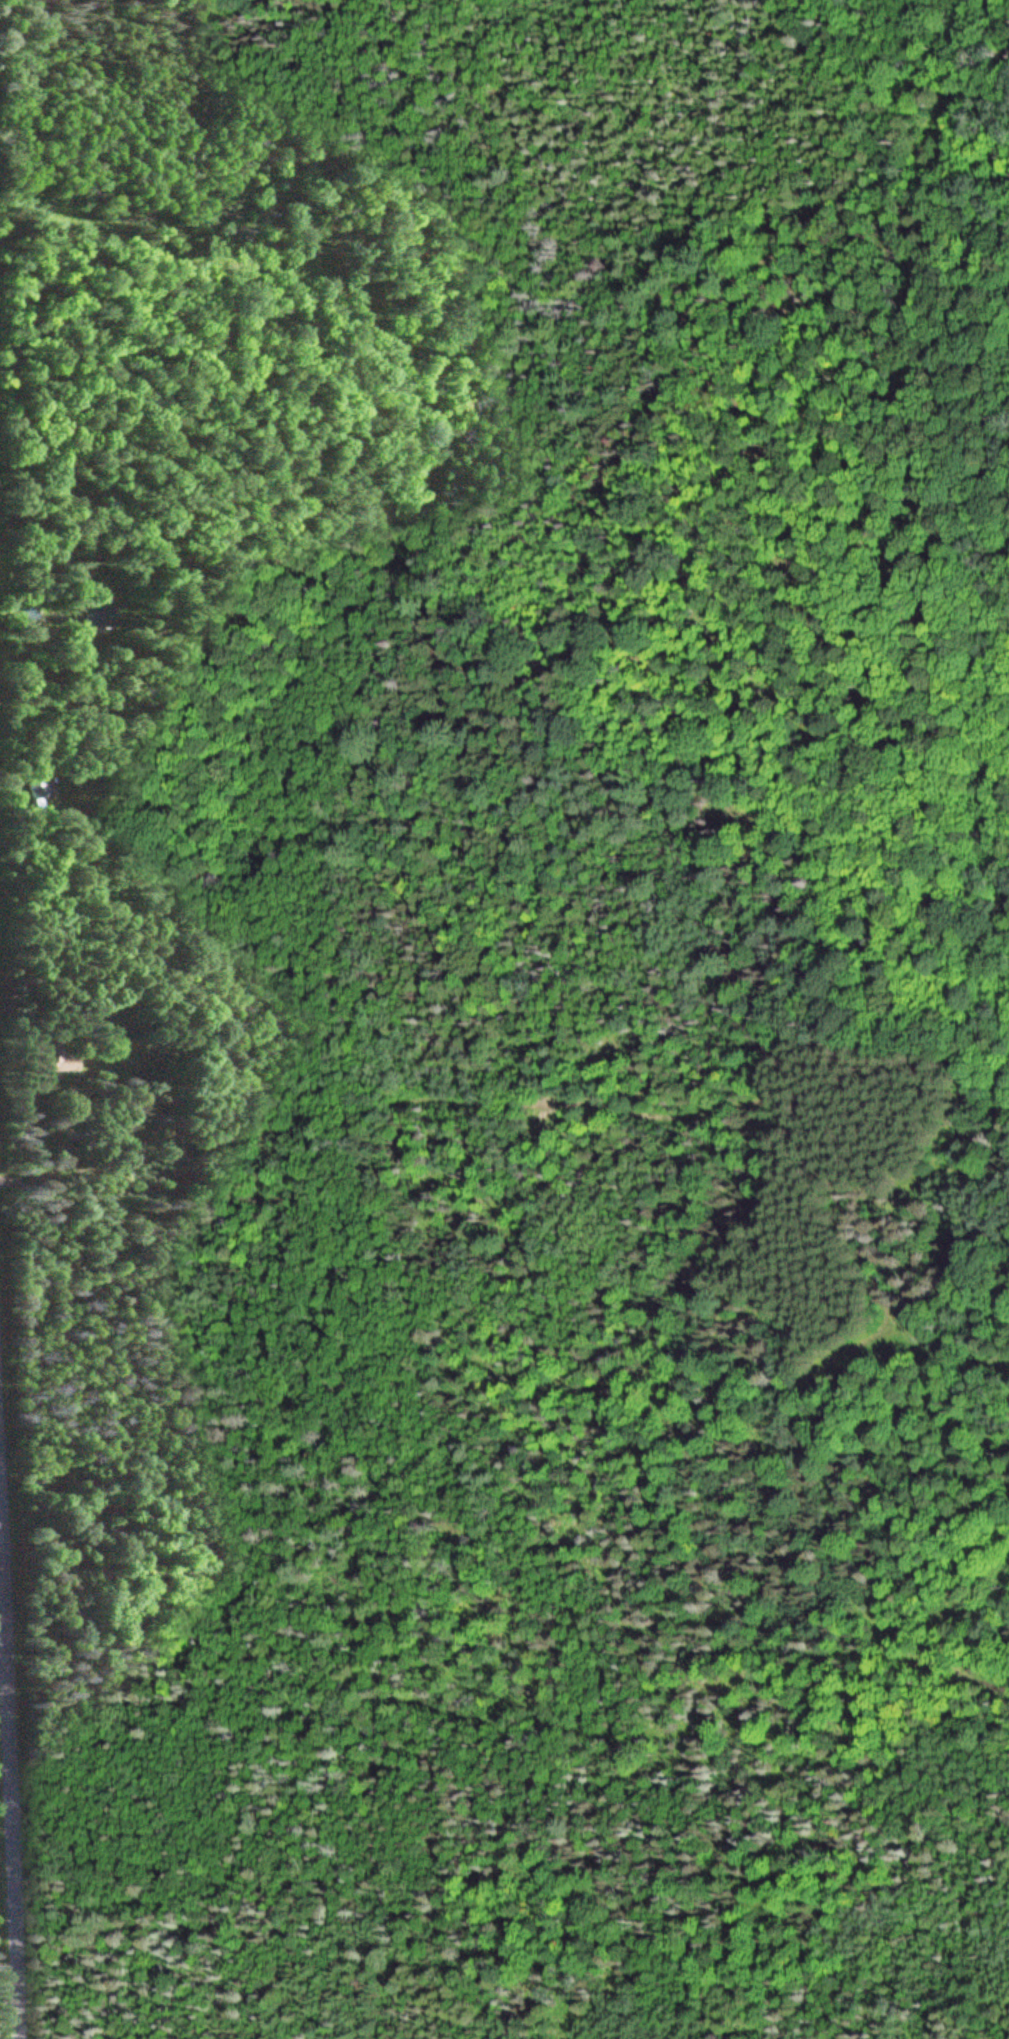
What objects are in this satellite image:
building: (47, 1059)
road: (29, 1094)
road: (9, 1789)

